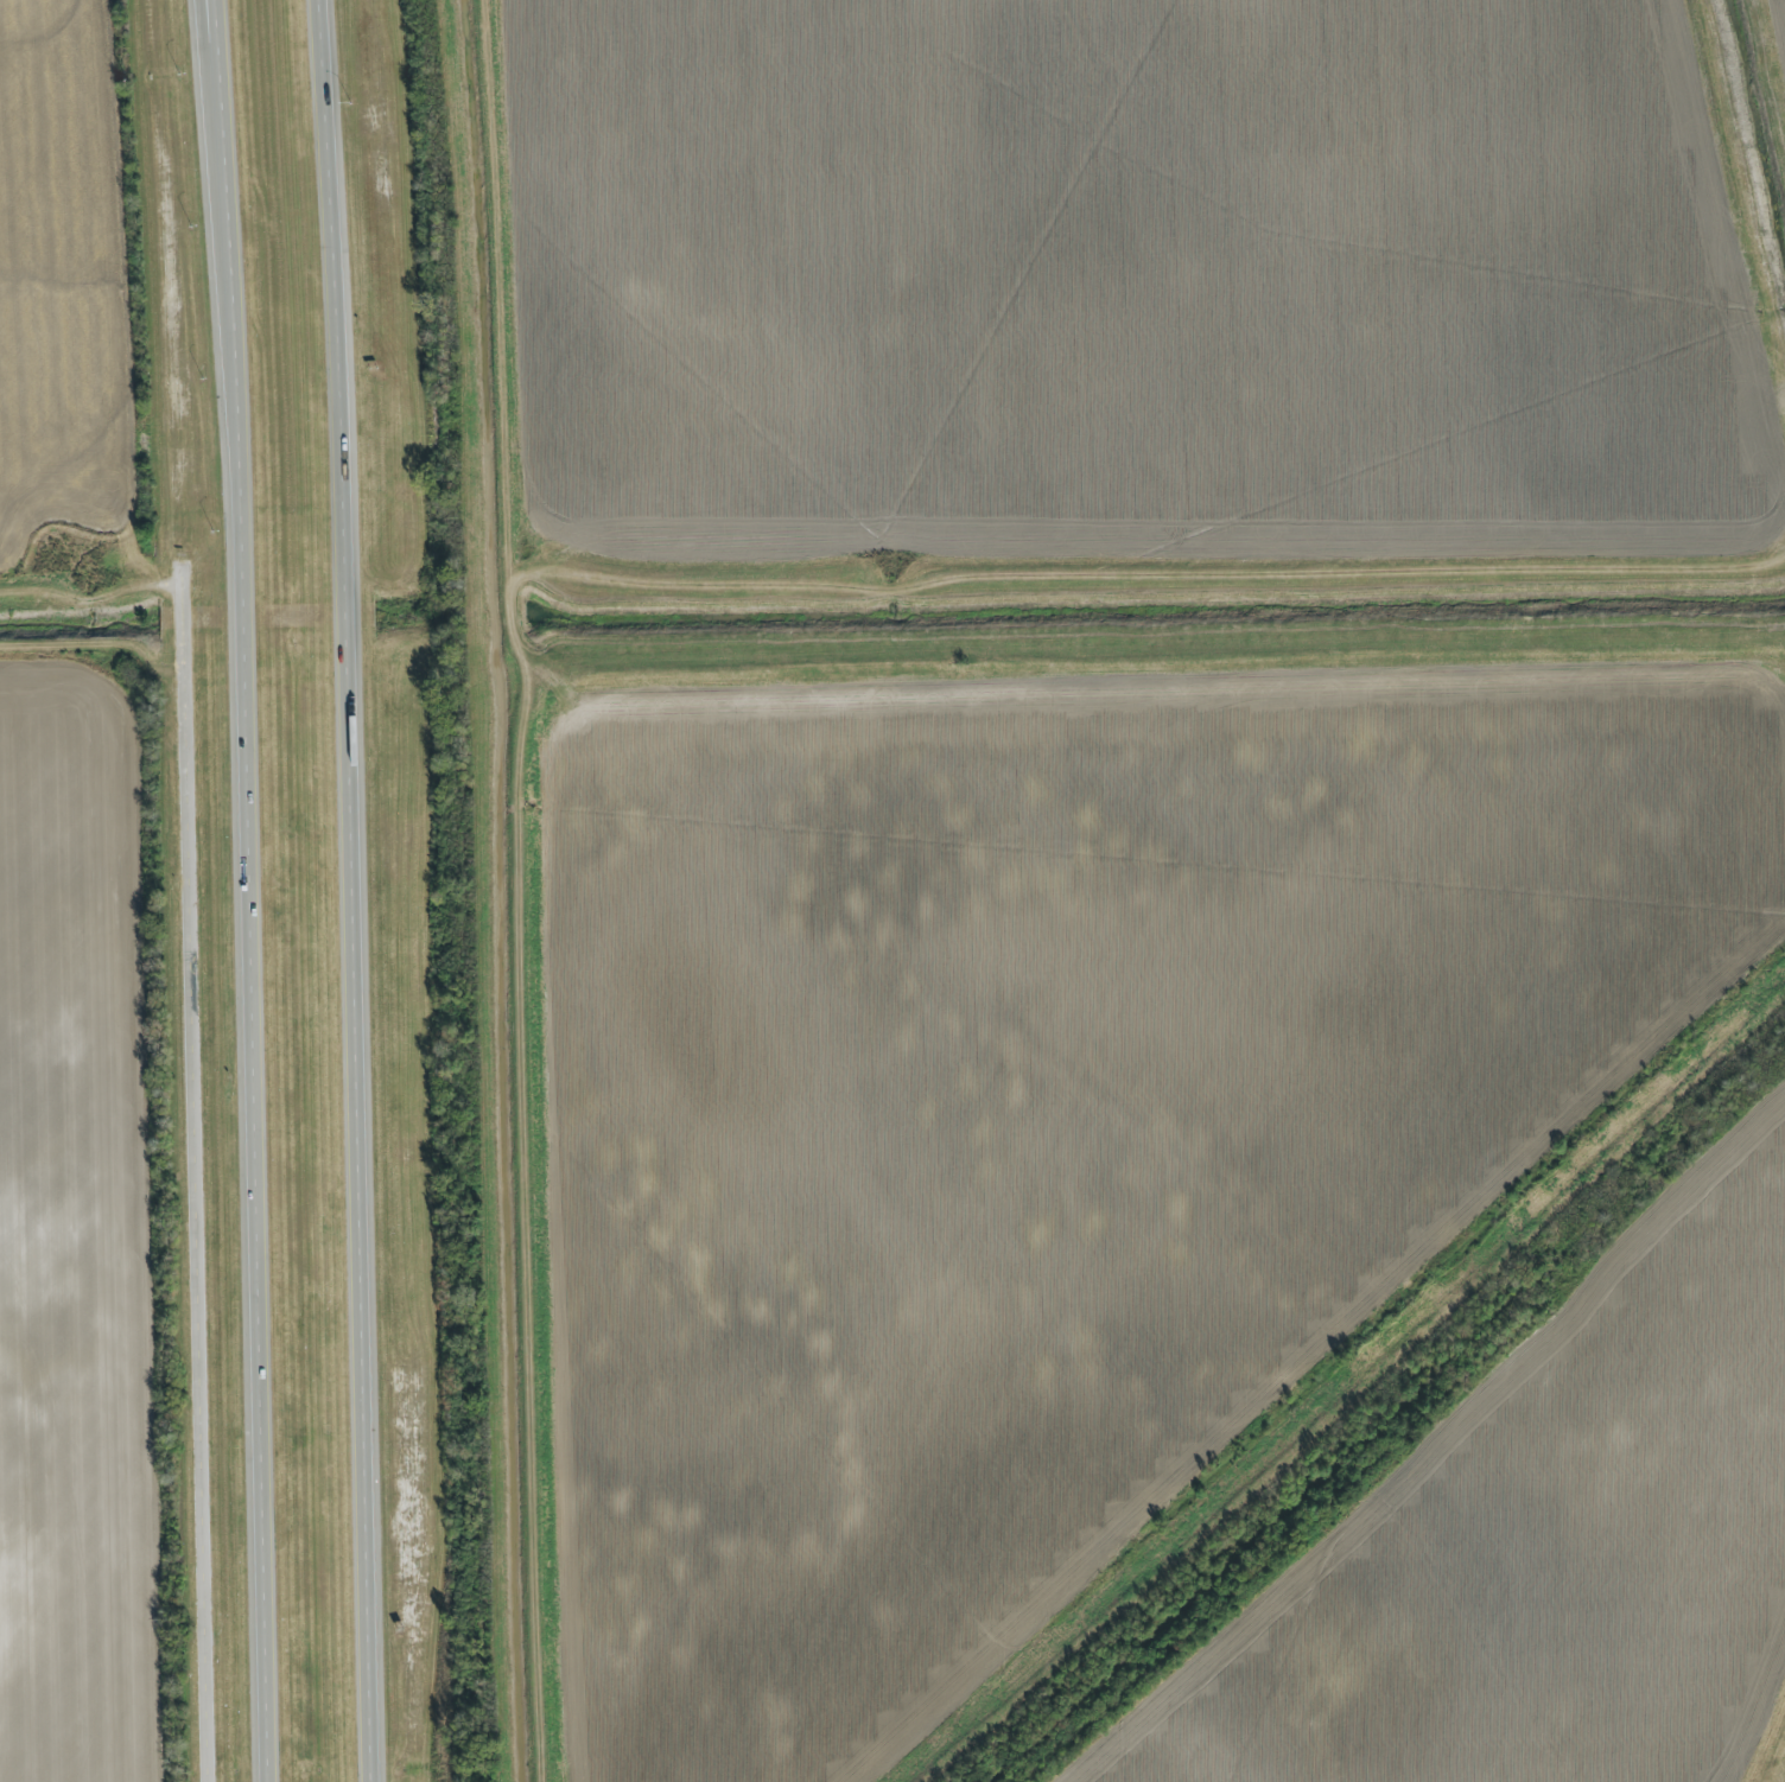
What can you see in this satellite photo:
road: (252, 890)
road: (360, 890)
road: (198, 1176)
river: (1780, 1771)

